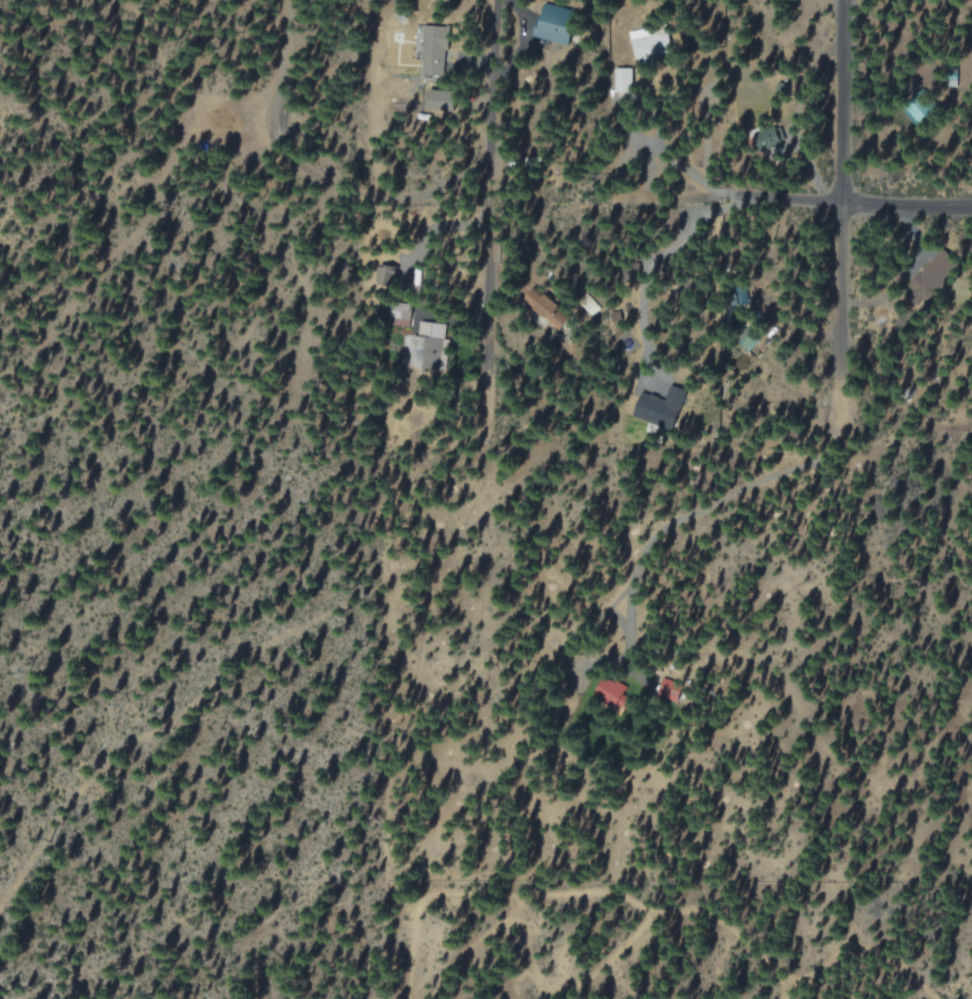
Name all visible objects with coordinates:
building: (557, 25)
building: (649, 43)
building: (433, 51)
building: (623, 80)
building: (441, 100)
road: (311, 172)
road: (488, 185)
road: (840, 188)
road: (850, 204)
building: (384, 274)
building: (428, 345)
road: (723, 500)

